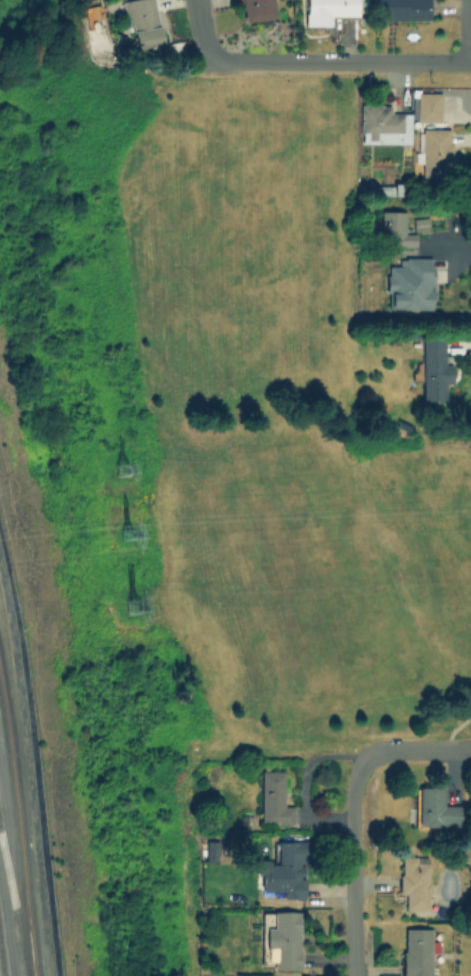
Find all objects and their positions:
building: (255, 9)
building: (401, 9)
building: (326, 10)
building: (142, 24)
road: (198, 30)
road: (470, 31)
road: (337, 62)
building: (427, 106)
building: (382, 124)
building: (435, 152)
building: (394, 227)
building: (408, 283)
building: (433, 369)
park: (259, 431)
power tower: (116, 472)
power tower: (115, 536)
power tower: (125, 614)
road: (415, 747)
building: (272, 798)
building: (433, 807)
railway: (20, 822)
building: (211, 851)
road: (353, 865)
building: (283, 869)
road: (7, 871)
building: (413, 882)
railway: (15, 900)
building: (282, 937)
building: (415, 951)
railway: (2, 957)

